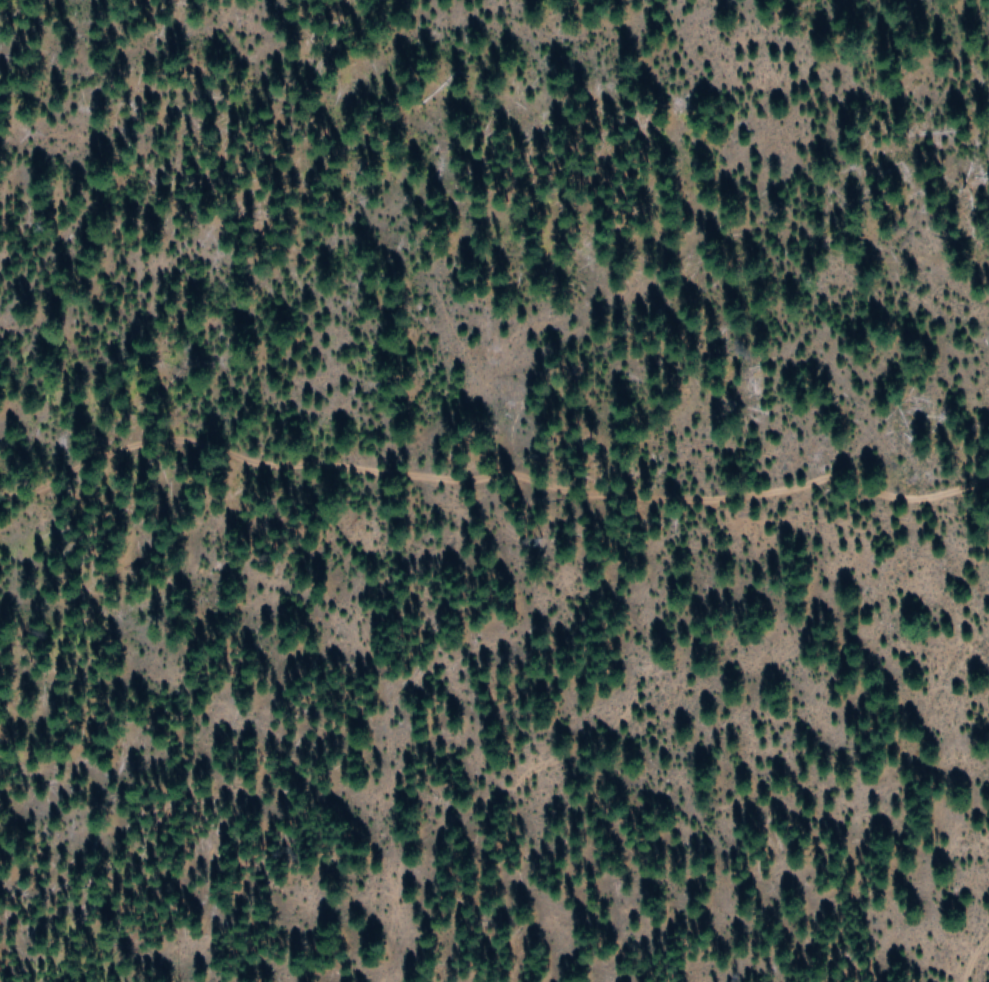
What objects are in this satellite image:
road: (487, 492)

